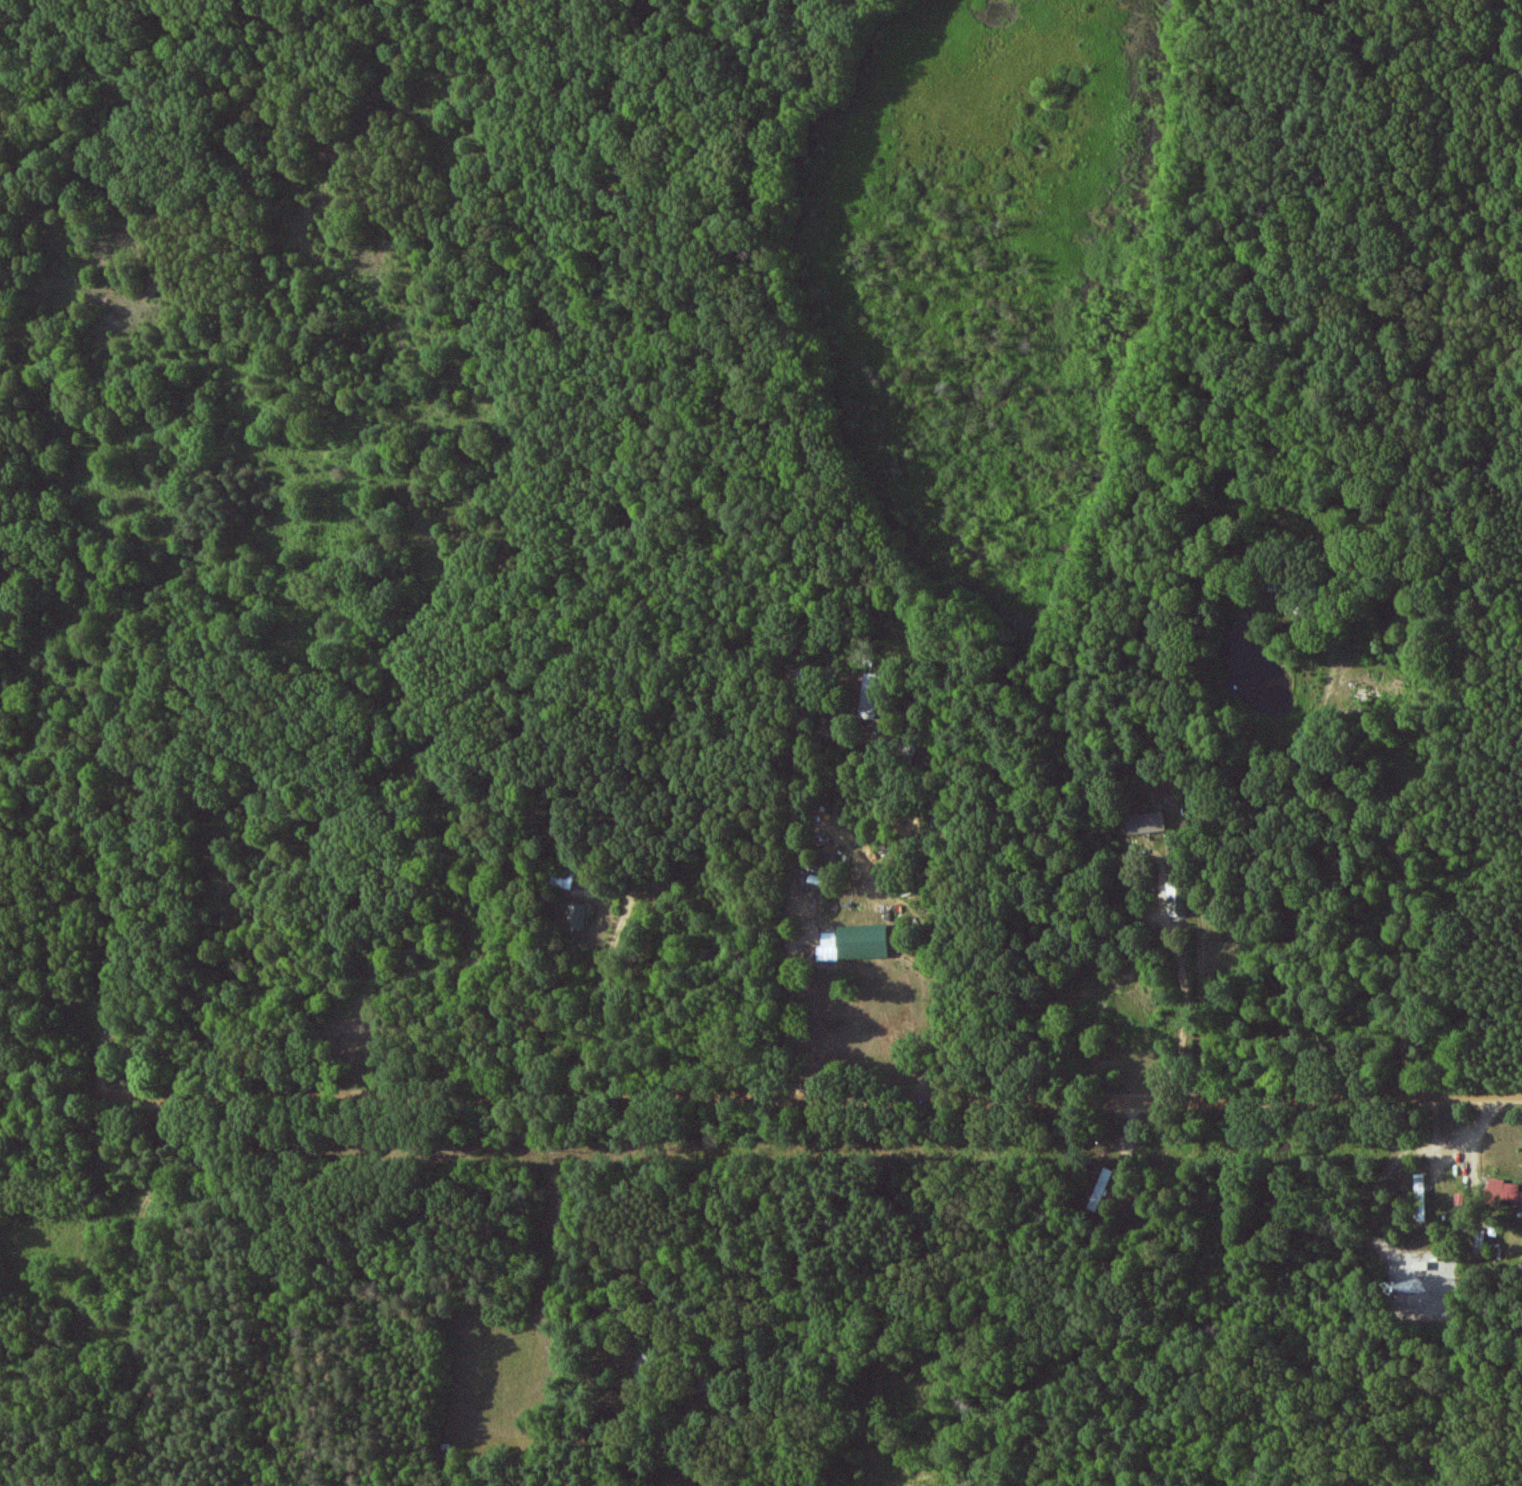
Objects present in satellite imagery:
building: (868, 695)
road: (1256, 793)
building: (1147, 822)
building: (1178, 898)
road: (792, 901)
road: (416, 935)
building: (855, 942)
road: (760, 1098)
building: (1099, 1189)
building: (1505, 1191)
building: (696, 1485)

